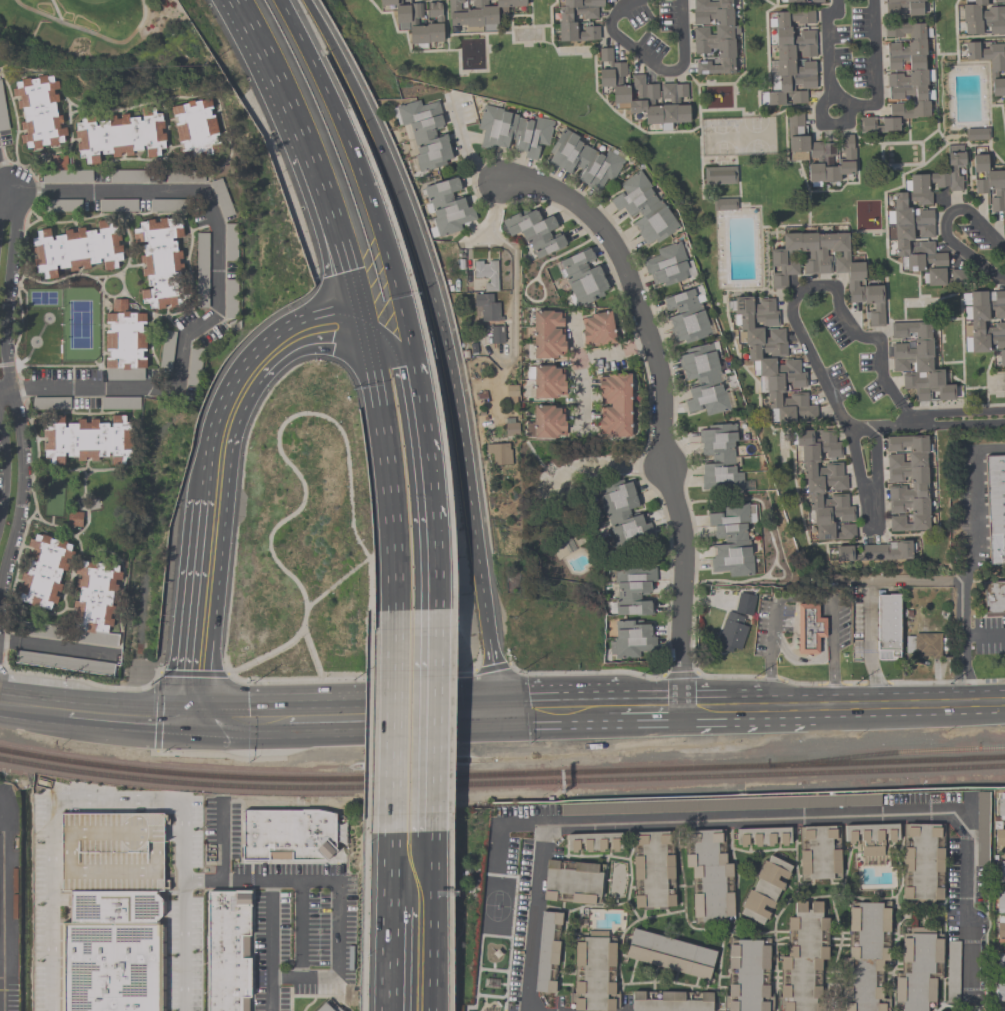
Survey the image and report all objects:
building: (800, 0)
building: (903, 7)
building: (478, 13)
building: (982, 17)
building: (564, 20)
building: (406, 24)
park: (74, 30)
building: (713, 35)
building: (790, 58)
road: (652, 64)
building: (990, 64)
building: (903, 77)
building: (643, 93)
road: (849, 103)
building: (38, 111)
road: (825, 123)
building: (195, 127)
road: (296, 129)
building: (512, 131)
building: (425, 133)
building: (976, 134)
building: (119, 135)
park: (737, 136)
road: (380, 143)
road: (467, 147)
building: (819, 152)
building: (582, 159)
building: (719, 175)
building: (72, 177)
building: (130, 177)
road: (361, 178)
road: (5, 183)
building: (989, 185)
building: (723, 204)
building: (118, 205)
building: (63, 206)
building: (446, 207)
building: (643, 208)
road: (493, 217)
building: (922, 218)
road: (943, 224)
building: (534, 231)
building: (76, 248)
building: (160, 263)
building: (666, 265)
building: (825, 266)
building: (202, 269)
building: (486, 273)
building: (581, 277)
road: (514, 284)
road: (825, 285)
road: (217, 288)
road: (354, 293)
building: (231, 296)
building: (487, 306)
building: (686, 315)
traffic signals: (361, 324)
building: (597, 328)
building: (984, 331)
building: (497, 334)
building: (546, 334)
building: (123, 342)
road: (388, 343)
road: (613, 352)
road: (267, 355)
building: (771, 359)
building: (917, 361)
road: (578, 372)
building: (702, 379)
building: (545, 381)
building: (511, 390)
road: (14, 402)
building: (614, 404)
road: (660, 404)
road: (958, 418)
building: (544, 422)
building: (510, 428)
road: (860, 428)
building: (85, 439)
road: (423, 444)
building: (498, 453)
road: (875, 457)
building: (719, 458)
road: (602, 464)
road: (385, 466)
road: (217, 472)
road: (860, 480)
road: (302, 481)
building: (917, 483)
building: (824, 484)
road: (0, 489)
road: (470, 501)
road: (151, 502)
road: (971, 502)
building: (995, 508)
building: (622, 513)
building: (73, 518)
building: (731, 539)
building: (874, 551)
road: (430, 566)
building: (43, 571)
road: (936, 582)
road: (370, 584)
building: (632, 589)
building: (94, 595)
road: (819, 597)
building: (994, 597)
road: (317, 599)
building: (744, 603)
road: (200, 610)
building: (887, 622)
building: (808, 628)
building: (731, 631)
building: (631, 639)
building: (923, 644)
road: (962, 646)
road: (869, 647)
road: (312, 654)
road: (819, 658)
road: (491, 669)
road: (586, 672)
road: (680, 673)
road: (194, 674)
road: (341, 678)
road: (765, 679)
road: (83, 680)
road: (769, 681)
road: (918, 682)
road: (832, 696)
road: (910, 702)
road: (650, 706)
road: (721, 706)
road: (789, 706)
road: (556, 708)
road: (33, 710)
traffic signals: (493, 710)
road: (408, 712)
road: (158, 713)
road: (128, 719)
road: (430, 720)
traffic signals: (191, 722)
road: (306, 722)
road: (390, 722)
road: (367, 723)
road: (239, 727)
railway: (886, 753)
road: (220, 756)
railway: (886, 760)
railway: (383, 778)
railway: (501, 783)
road: (121, 802)
building: (719, 805)
building: (1001, 806)
road: (758, 818)
road: (501, 824)
building: (981, 828)
road: (177, 833)
building: (760, 836)
building: (287, 837)
building: (870, 837)
building: (999, 837)
road: (223, 841)
building: (593, 841)
building: (818, 853)
building: (109, 854)
parking lot: (109, 854)
building: (921, 863)
building: (1002, 867)
road: (391, 868)
building: (652, 870)
building: (708, 876)
road: (306, 881)
building: (571, 881)
building: (764, 889)
building: (1000, 901)
road: (49, 904)
road: (186, 907)
road: (428, 921)
road: (363, 922)
building: (1000, 926)
road: (300, 945)
road: (270, 946)
building: (227, 951)
building: (545, 951)
parking lot: (183, 952)
building: (107, 953)
building: (669, 953)
building: (865, 956)
road: (391, 957)
building: (802, 958)
building: (1001, 960)
building: (917, 968)
building: (747, 973)
building: (593, 974)
road: (320, 978)
building: (999, 991)
building: (670, 1001)
building: (326, 1008)
building: (1002, 1009)

